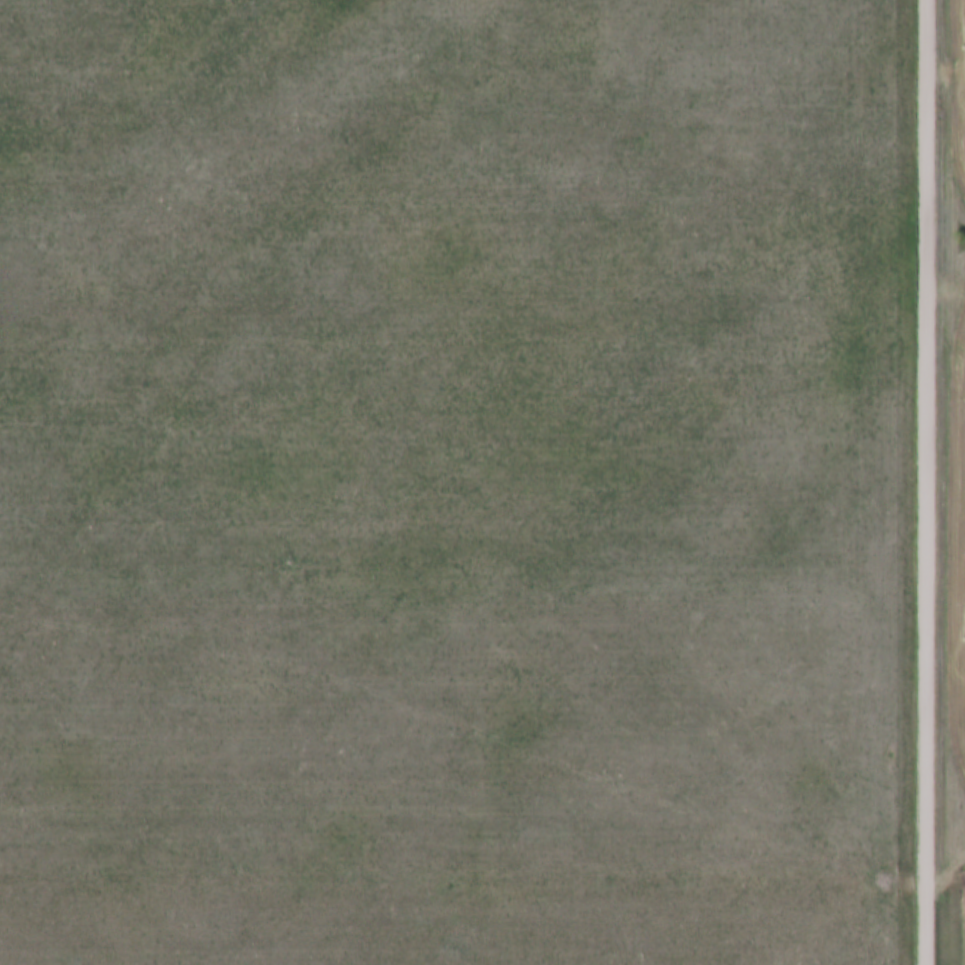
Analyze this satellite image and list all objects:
road: (929, 482)

